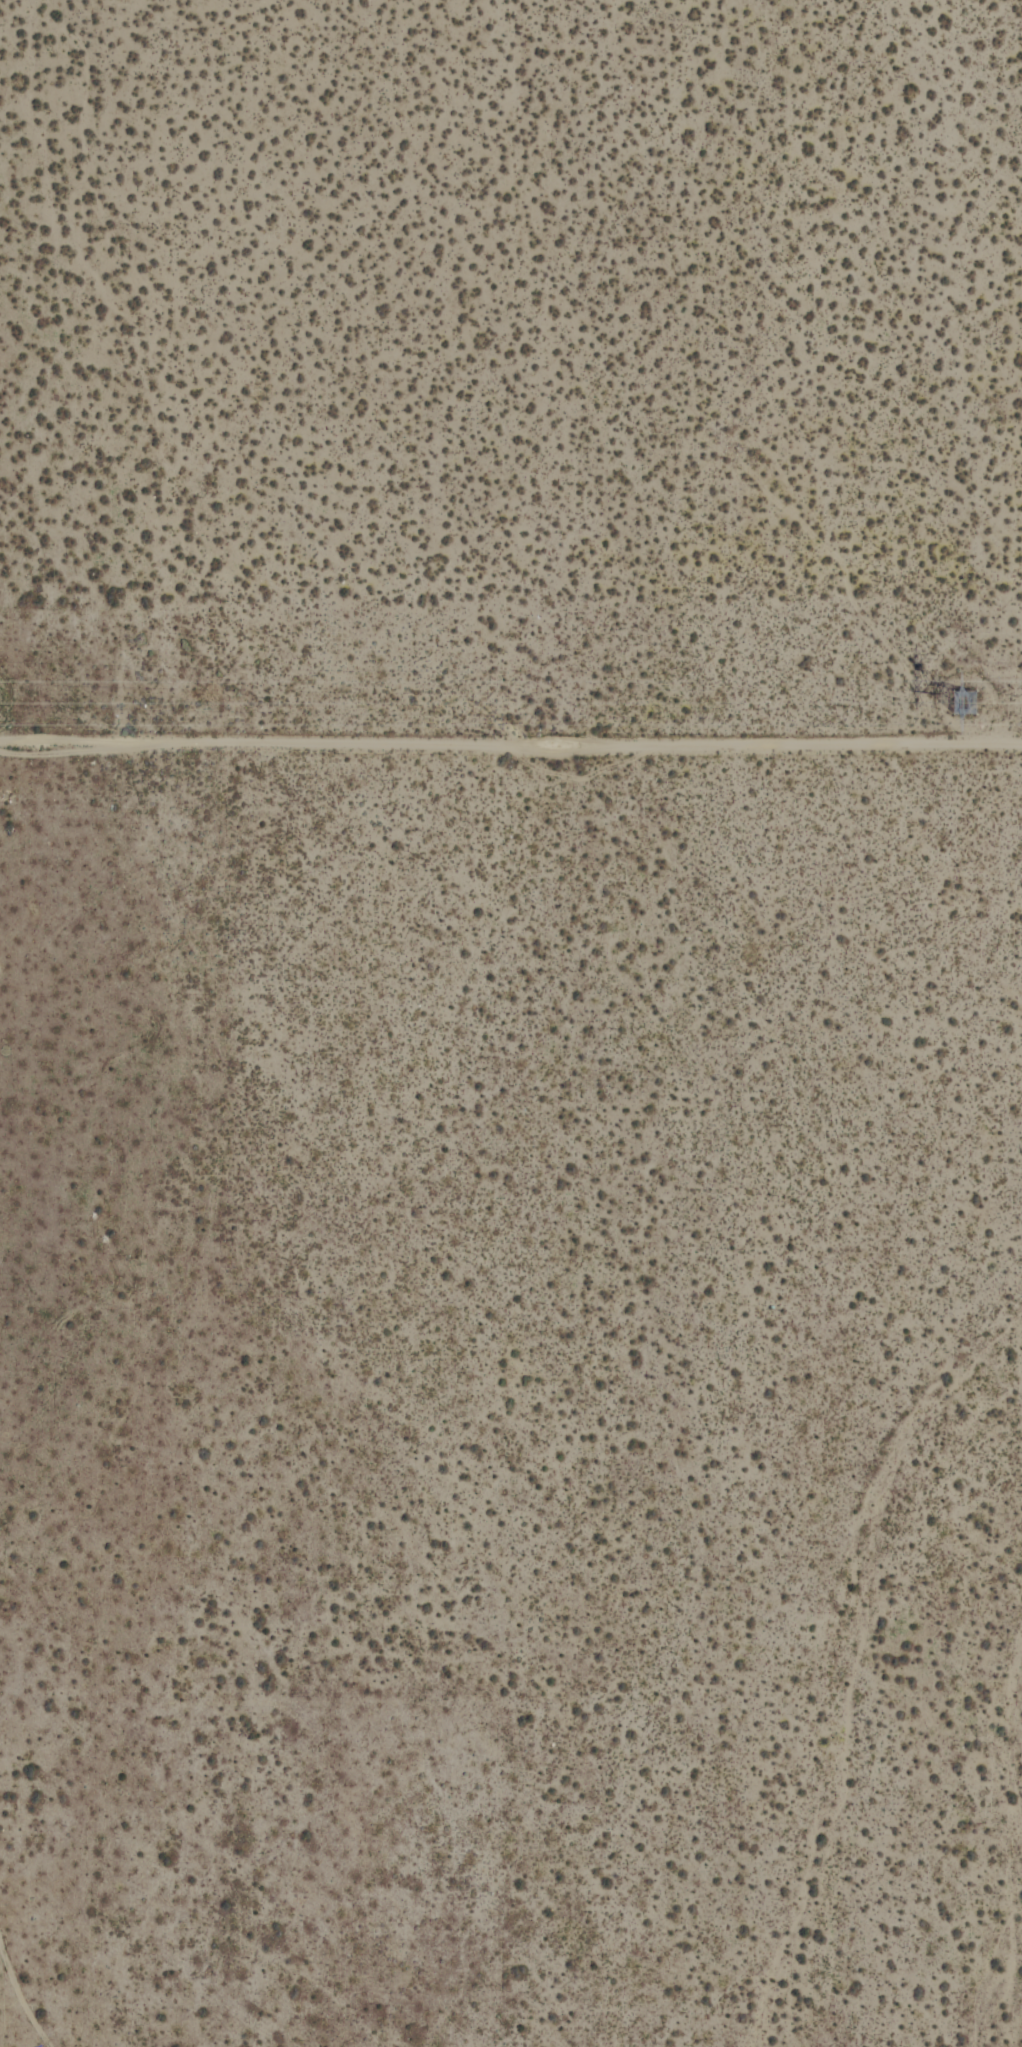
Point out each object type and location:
power tower: (977, 707)
road: (510, 746)
road: (19, 1995)

